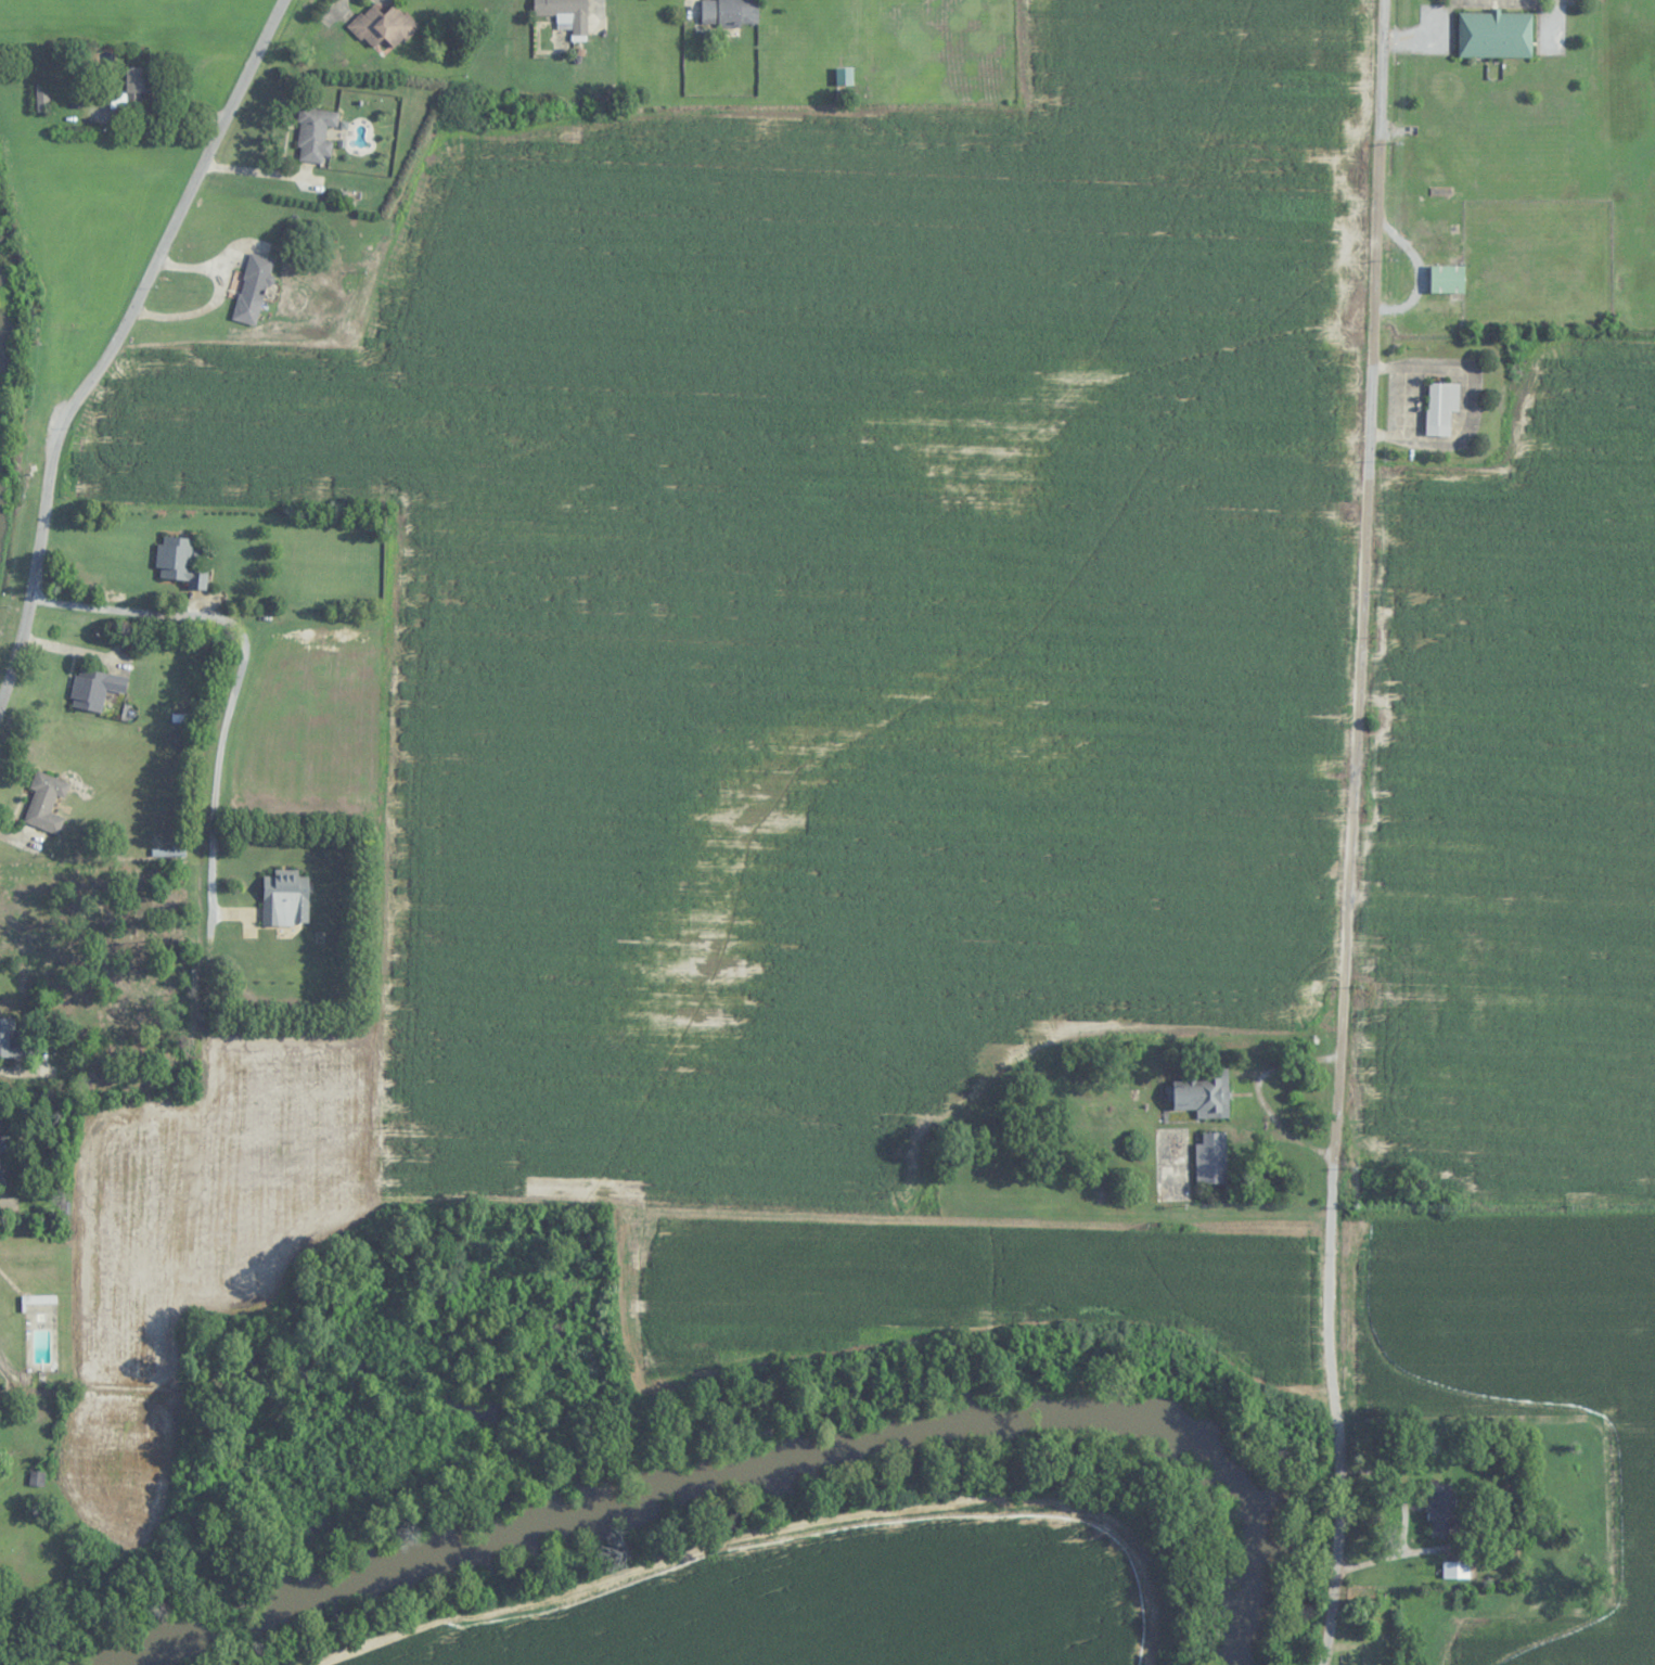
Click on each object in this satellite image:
building: (730, 12)
building: (566, 15)
building: (384, 28)
building: (1496, 34)
building: (132, 90)
building: (43, 98)
building: (316, 133)
road: (177, 219)
building: (1447, 279)
building: (253, 289)
building: (1441, 406)
building: (179, 560)
road: (34, 568)
road: (239, 667)
building: (95, 687)
building: (47, 801)
road: (1350, 832)
building: (286, 897)
building: (1463, 1003)
building: (8, 1038)
building: (1205, 1094)
building: (0, 1143)
building: (1211, 1158)
building: (40, 1312)
road: (1493, 1421)
river: (753, 1437)
building: (37, 1478)
building: (1441, 1510)
building: (1453, 1575)
building: (1486, 1654)
building: (1437, 1663)

